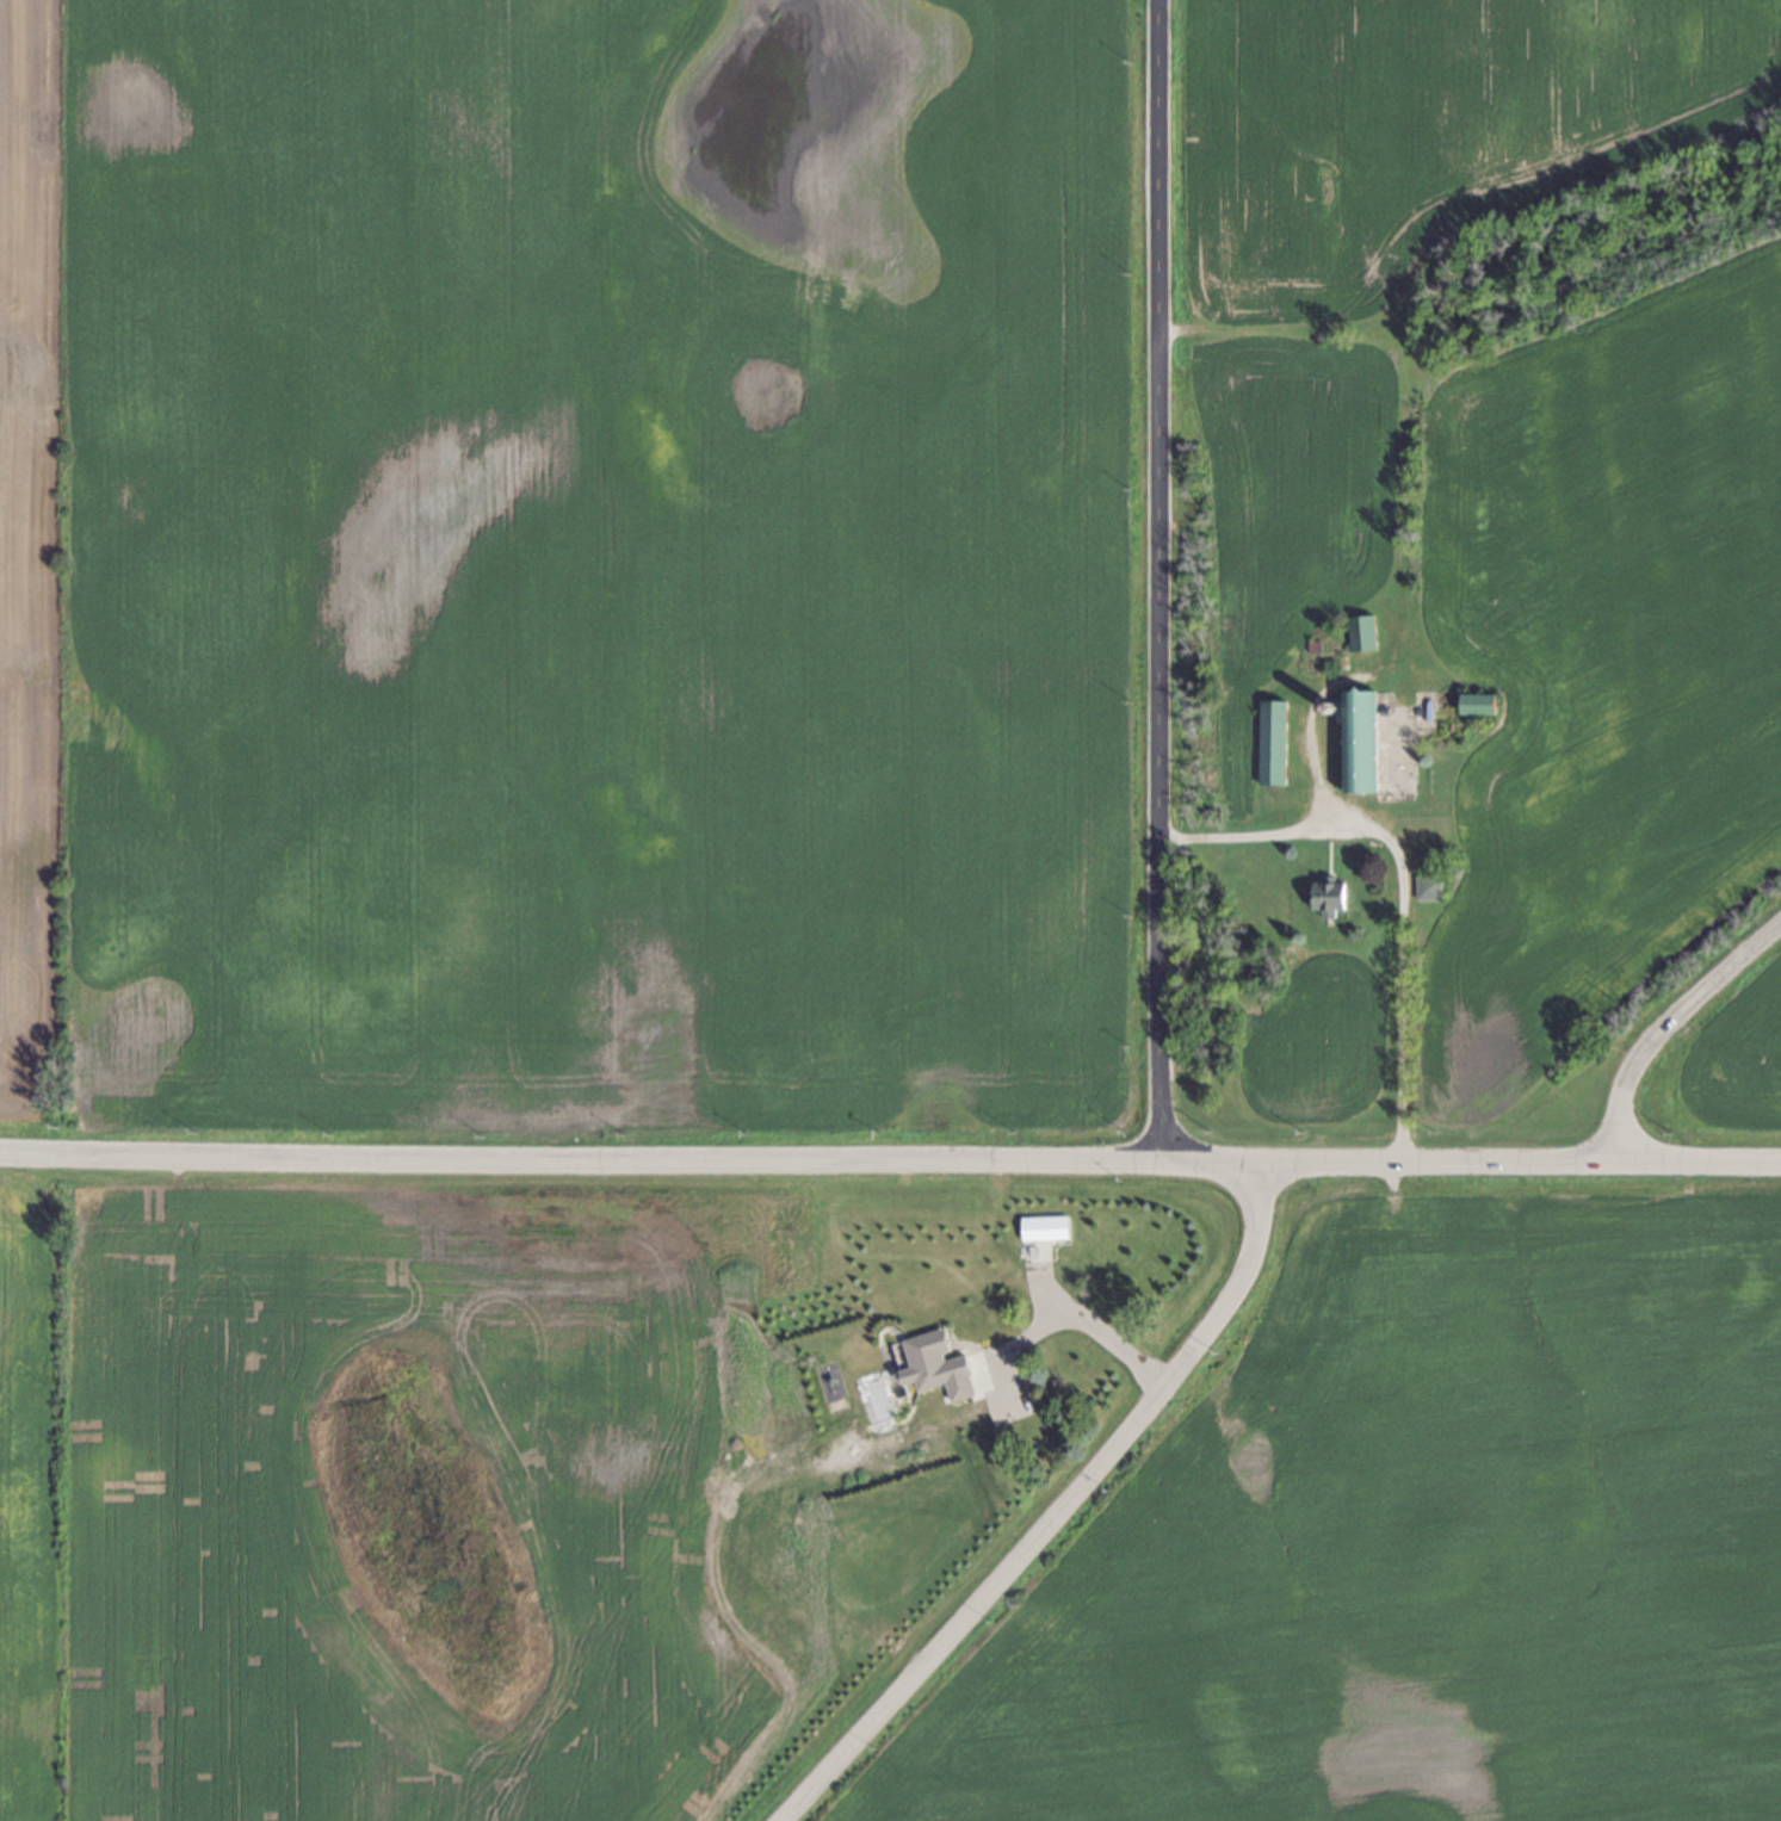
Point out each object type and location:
road: (1155, 577)
building: (1479, 702)
road: (1400, 877)
building: (1429, 886)
building: (1330, 897)
road: (1666, 1028)
road: (890, 1157)
building: (1045, 1227)
road: (1088, 1325)
building: (938, 1365)
crop: (29, 1491)
road: (1064, 1516)

